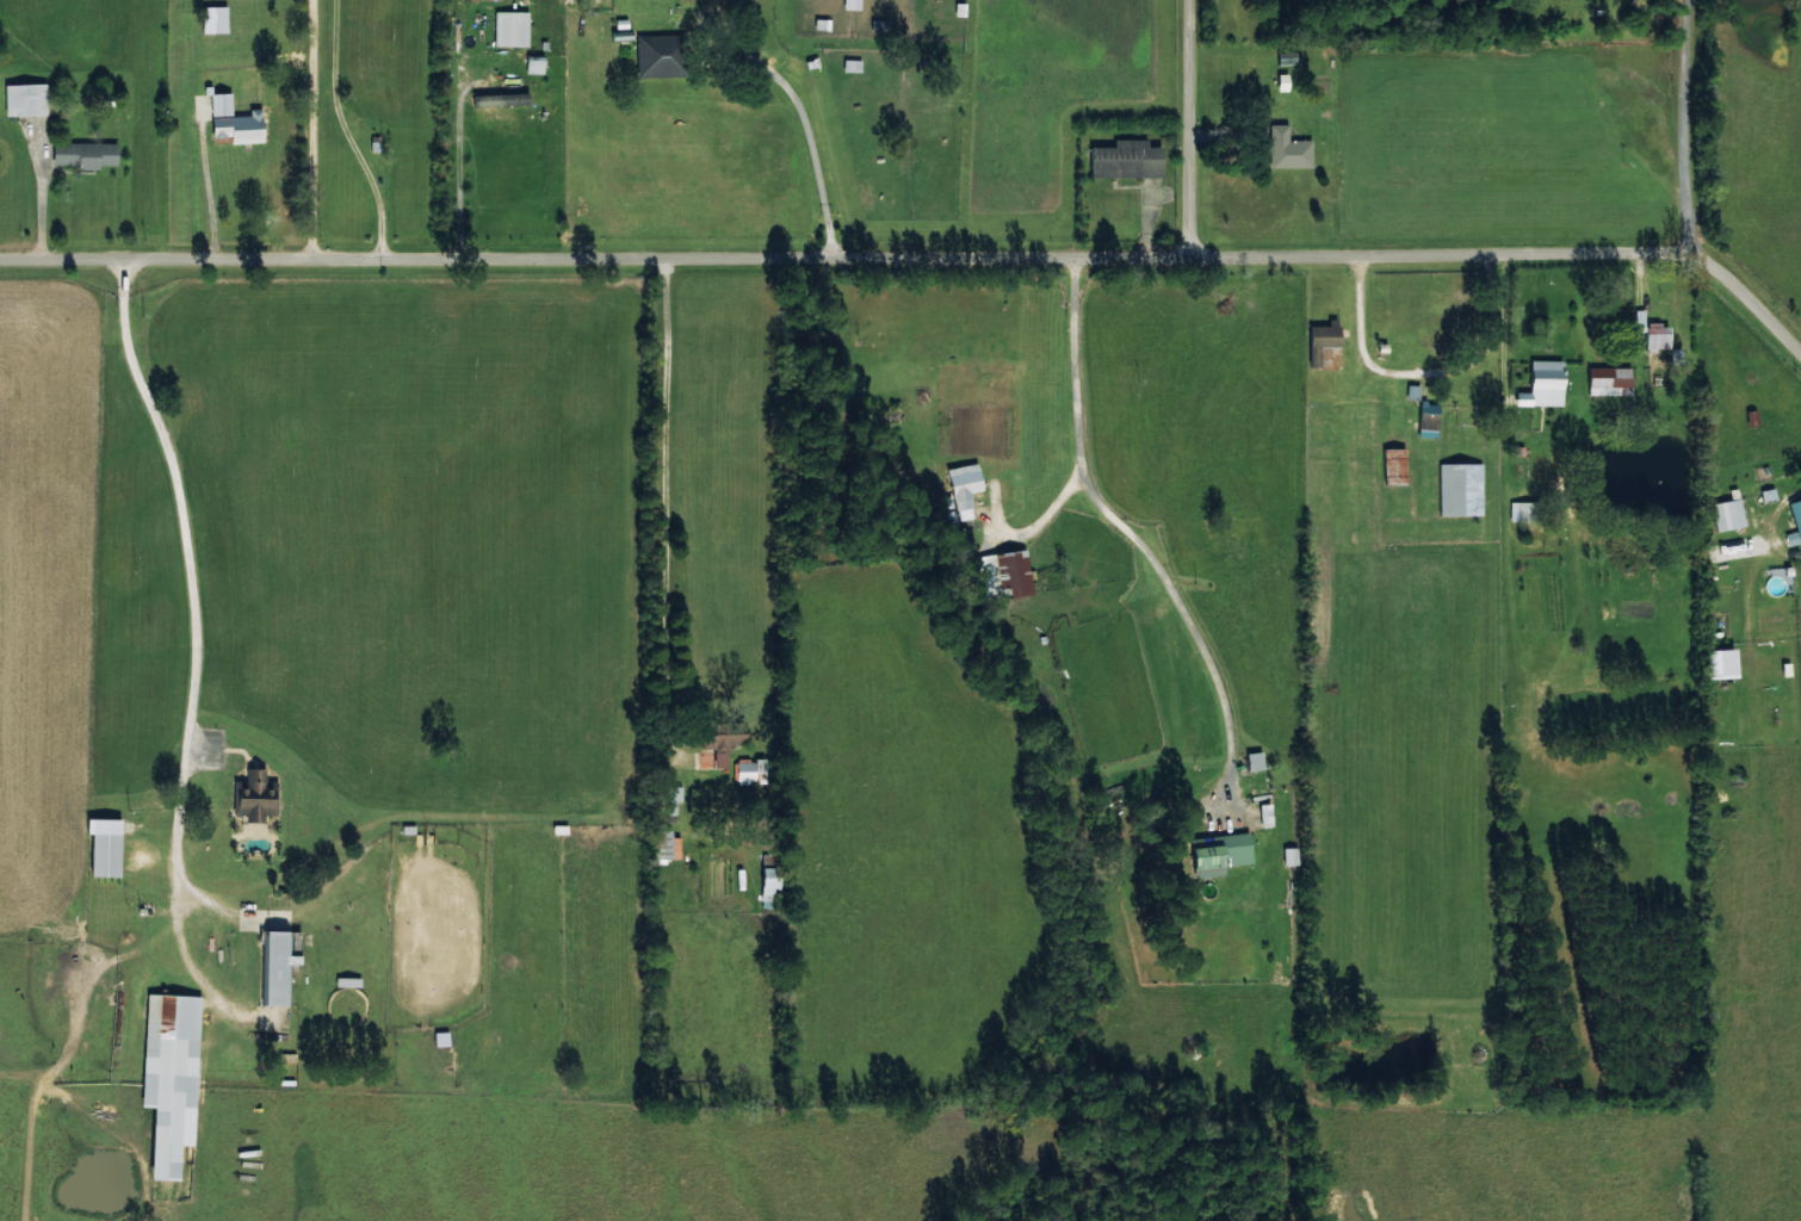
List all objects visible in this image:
building: (852, 5)
building: (213, 19)
building: (822, 24)
building: (879, 25)
building: (512, 27)
building: (661, 55)
building: (534, 64)
building: (852, 66)
building: (25, 99)
building: (501, 99)
building: (235, 120)
road: (1685, 141)
road: (810, 144)
road: (1206, 144)
road: (468, 145)
building: (1287, 149)
building: (85, 154)
building: (1126, 160)
road: (1520, 289)
road: (602, 291)
building: (1658, 336)
building: (1325, 345)
building: (1610, 380)
building: (1545, 384)
building: (1412, 392)
building: (1428, 419)
road: (898, 452)
building: (1394, 466)
building: (965, 489)
building: (1460, 489)
road: (1165, 490)
building: (1768, 494)
building: (1523, 510)
building: (1727, 514)
road: (673, 515)
building: (1795, 523)
building: (1015, 571)
building: (1722, 663)
building: (722, 745)
building: (1255, 760)
building: (750, 770)
building: (254, 795)
building: (1265, 814)
building: (670, 844)
building: (105, 845)
building: (1219, 853)
building: (1291, 855)
building: (769, 884)
building: (279, 962)
building: (441, 1037)
building: (171, 1076)

